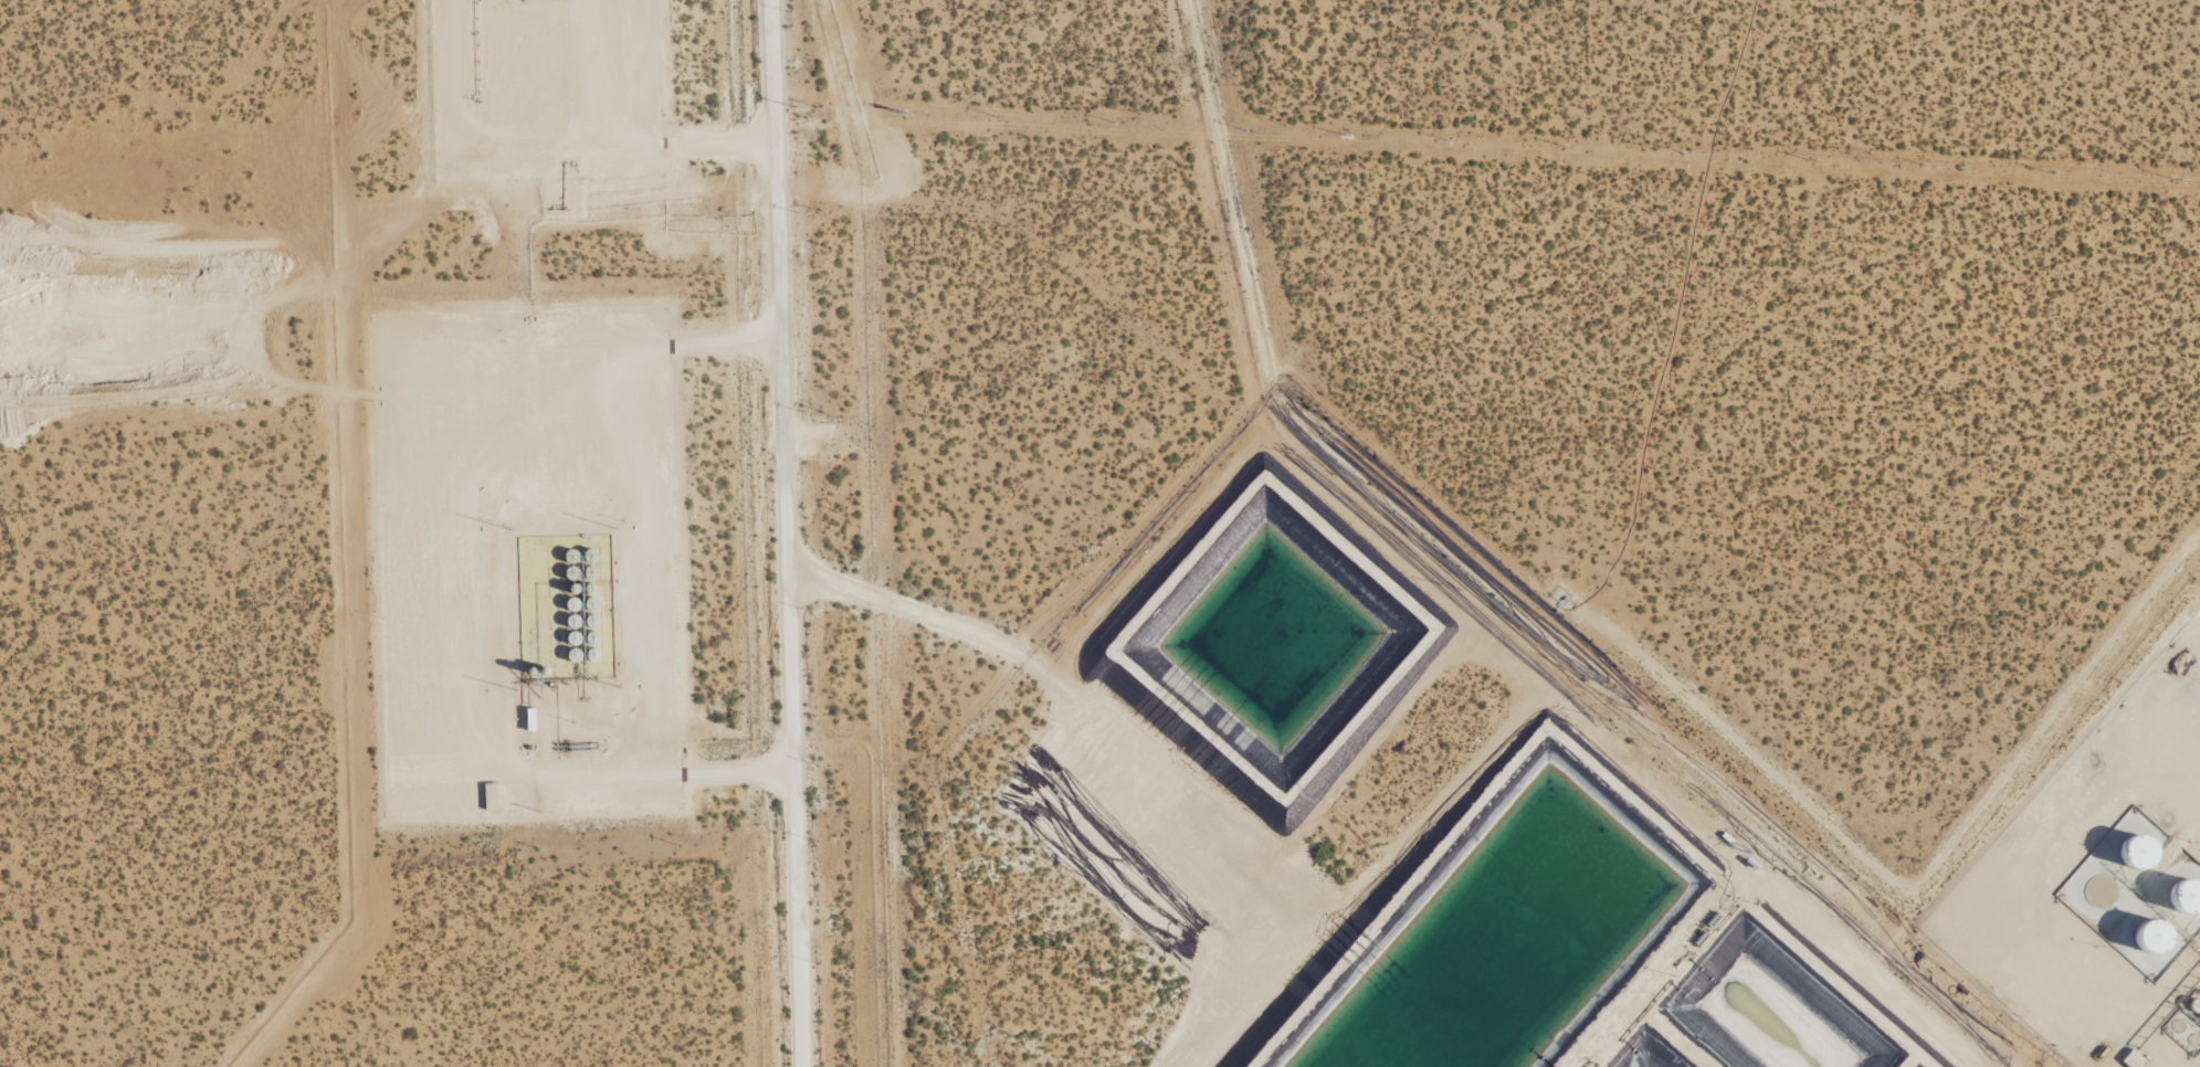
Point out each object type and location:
road: (768, 167)
road: (772, 499)
road: (794, 865)
building: (2185, 896)
building: (2149, 936)

